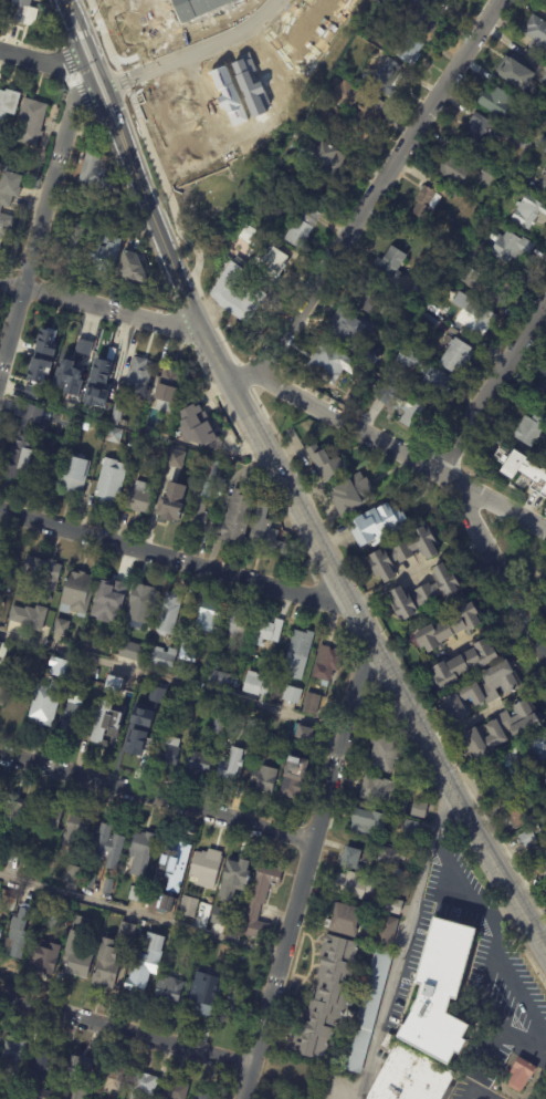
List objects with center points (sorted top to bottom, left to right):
building: (454, 0)
building: (545, 0)
building: (1, 3)
building: (427, 11)
building: (21, 14)
road: (102, 30)
road: (75, 33)
building: (536, 33)
road: (187, 37)
building: (409, 49)
road: (44, 54)
road: (193, 54)
road: (116, 65)
building: (515, 73)
building: (387, 76)
road: (94, 77)
building: (544, 80)
road: (123, 81)
building: (9, 101)
building: (496, 102)
road: (209, 107)
building: (356, 107)
building: (537, 110)
building: (30, 123)
building: (311, 128)
building: (481, 132)
building: (542, 144)
building: (327, 160)
building: (455, 166)
building: (0, 167)
building: (93, 173)
building: (486, 175)
building: (523, 176)
building: (544, 185)
road: (381, 187)
road: (169, 194)
building: (8, 201)
building: (429, 201)
building: (528, 211)
road: (44, 219)
building: (302, 226)
building: (249, 235)
building: (101, 237)
building: (75, 243)
building: (507, 248)
building: (104, 257)
building: (269, 261)
building: (390, 265)
building: (130, 268)
building: (455, 274)
building: (486, 287)
building: (235, 293)
building: (424, 294)
building: (376, 300)
road: (102, 303)
building: (434, 308)
building: (479, 320)
building: (429, 321)
building: (348, 326)
road: (219, 331)
building: (83, 346)
building: (41, 354)
building: (456, 356)
building: (371, 360)
building: (105, 362)
building: (330, 364)
road: (242, 370)
building: (399, 372)
building: (428, 374)
building: (70, 375)
building: (138, 376)
building: (168, 387)
road: (491, 390)
building: (542, 395)
building: (67, 398)
building: (401, 406)
building: (116, 415)
building: (123, 423)
building: (195, 428)
building: (101, 429)
building: (528, 429)
building: (165, 433)
building: (114, 434)
building: (23, 438)
road: (388, 444)
building: (176, 458)
building: (228, 462)
building: (327, 463)
building: (523, 469)
building: (74, 473)
building: (111, 479)
building: (220, 485)
building: (202, 493)
building: (350, 493)
building: (544, 494)
building: (139, 497)
building: (172, 499)
building: (235, 516)
road: (306, 523)
building: (361, 530)
building: (265, 531)
building: (0, 552)
building: (403, 552)
road: (177, 558)
road: (413, 569)
building: (42, 570)
road: (496, 571)
building: (109, 589)
building: (75, 592)
building: (426, 592)
building: (140, 597)
building: (31, 610)
building: (169, 613)
building: (207, 615)
building: (238, 623)
building: (61, 625)
building: (449, 626)
building: (267, 631)
building: (112, 632)
building: (143, 642)
building: (300, 647)
building: (3, 649)
building: (128, 651)
building: (252, 651)
building: (167, 652)
building: (186, 655)
building: (326, 662)
building: (465, 662)
building: (59, 667)
building: (70, 670)
building: (201, 675)
building: (220, 678)
road: (172, 681)
building: (4, 683)
building: (255, 684)
building: (115, 685)
building: (482, 690)
building: (292, 694)
building: (158, 696)
building: (312, 703)
building: (45, 707)
building: (235, 707)
building: (75, 716)
building: (107, 720)
building: (137, 720)
building: (220, 726)
building: (503, 728)
building: (252, 730)
building: (305, 733)
building: (535, 749)
building: (168, 750)
building: (282, 750)
building: (384, 750)
building: (199, 763)
building: (230, 766)
building: (400, 773)
building: (545, 773)
building: (294, 776)
building: (264, 778)
building: (494, 785)
building: (0, 790)
building: (384, 792)
road: (157, 797)
building: (0, 800)
building: (419, 809)
building: (13, 811)
building: (518, 816)
building: (49, 818)
building: (367, 821)
building: (411, 828)
building: (536, 829)
building: (77, 833)
building: (527, 839)
building: (109, 846)
building: (3, 852)
building: (140, 852)
building: (176, 854)
building: (390, 856)
building: (209, 857)
building: (350, 858)
building: (32, 863)
building: (369, 863)
building: (237, 868)
road: (306, 869)
building: (543, 870)
building: (397, 872)
building: (74, 874)
road: (460, 880)
building: (90, 881)
building: (108, 885)
building: (353, 885)
building: (136, 894)
building: (156, 894)
building: (9, 900)
building: (260, 900)
building: (188, 906)
building: (393, 906)
road: (140, 913)
building: (49, 917)
building: (218, 917)
building: (346, 919)
building: (126, 930)
building: (138, 931)
building: (387, 931)
building: (1, 933)
road: (405, 939)
building: (20, 943)
building: (48, 953)
building: (224, 953)
building: (76, 957)
building: (145, 963)
building: (106, 966)
building: (169, 988)
building: (202, 992)
building: (443, 992)
building: (328, 998)
building: (233, 1005)
building: (363, 1017)
road: (540, 1029)
road: (124, 1034)
building: (12, 1055)
building: (43, 1062)
building: (81, 1067)
building: (522, 1075)
building: (411, 1076)
building: (112, 1078)
building: (144, 1085)
building: (174, 1090)
building: (76, 1092)
road: (480, 1092)
building: (39, 1093)
building: (203, 1096)
building: (9, 1098)

